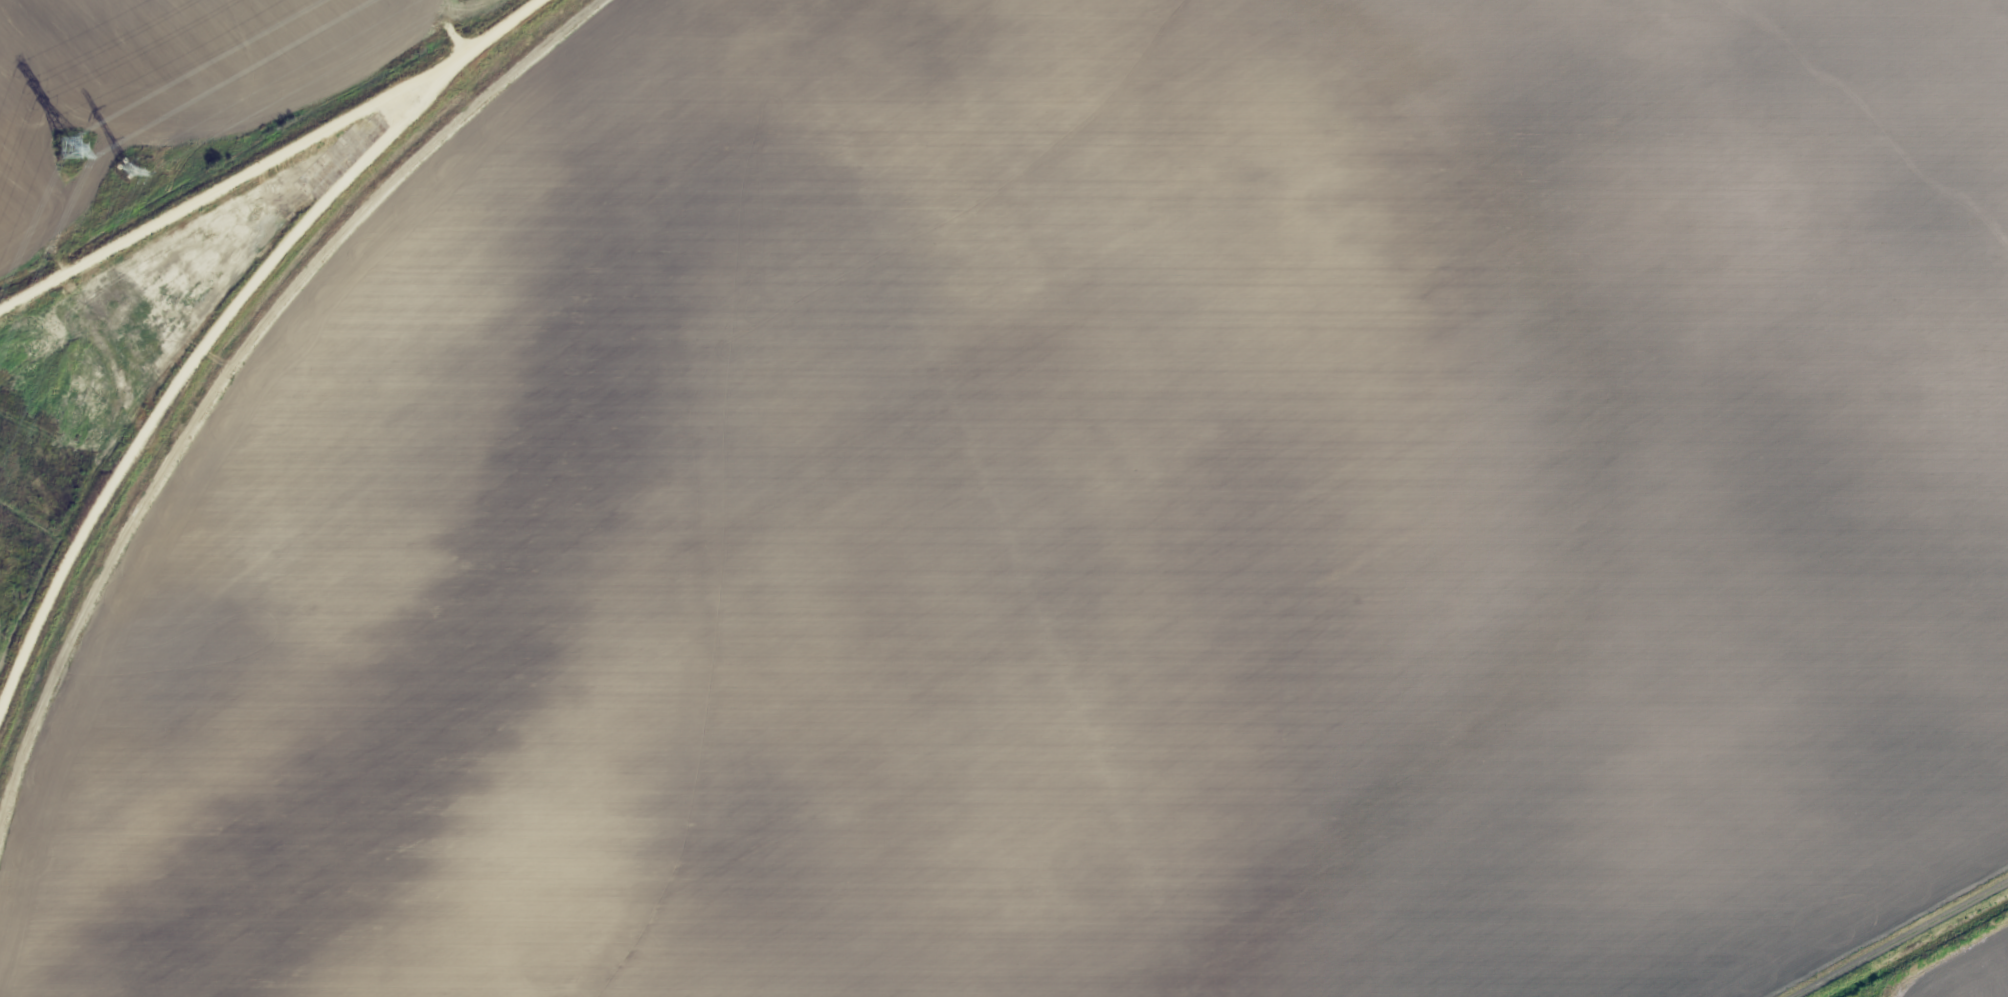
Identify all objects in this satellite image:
power tower: (69, 147)
railway: (256, 155)
power tower: (125, 170)
railway: (227, 374)

